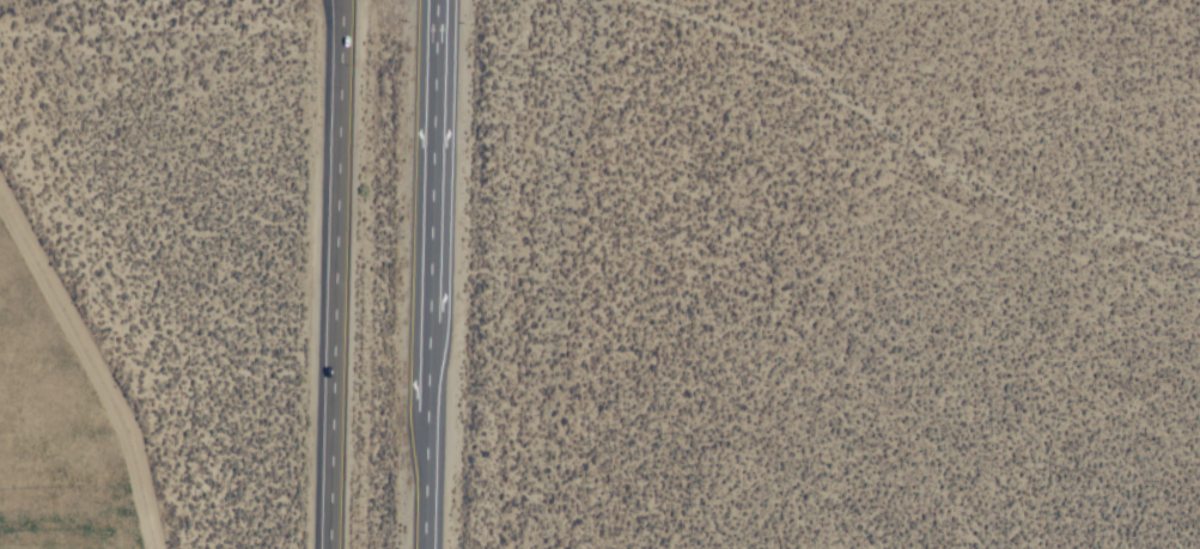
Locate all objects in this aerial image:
road: (432, 155)
road: (337, 274)
road: (426, 359)
road: (424, 477)

